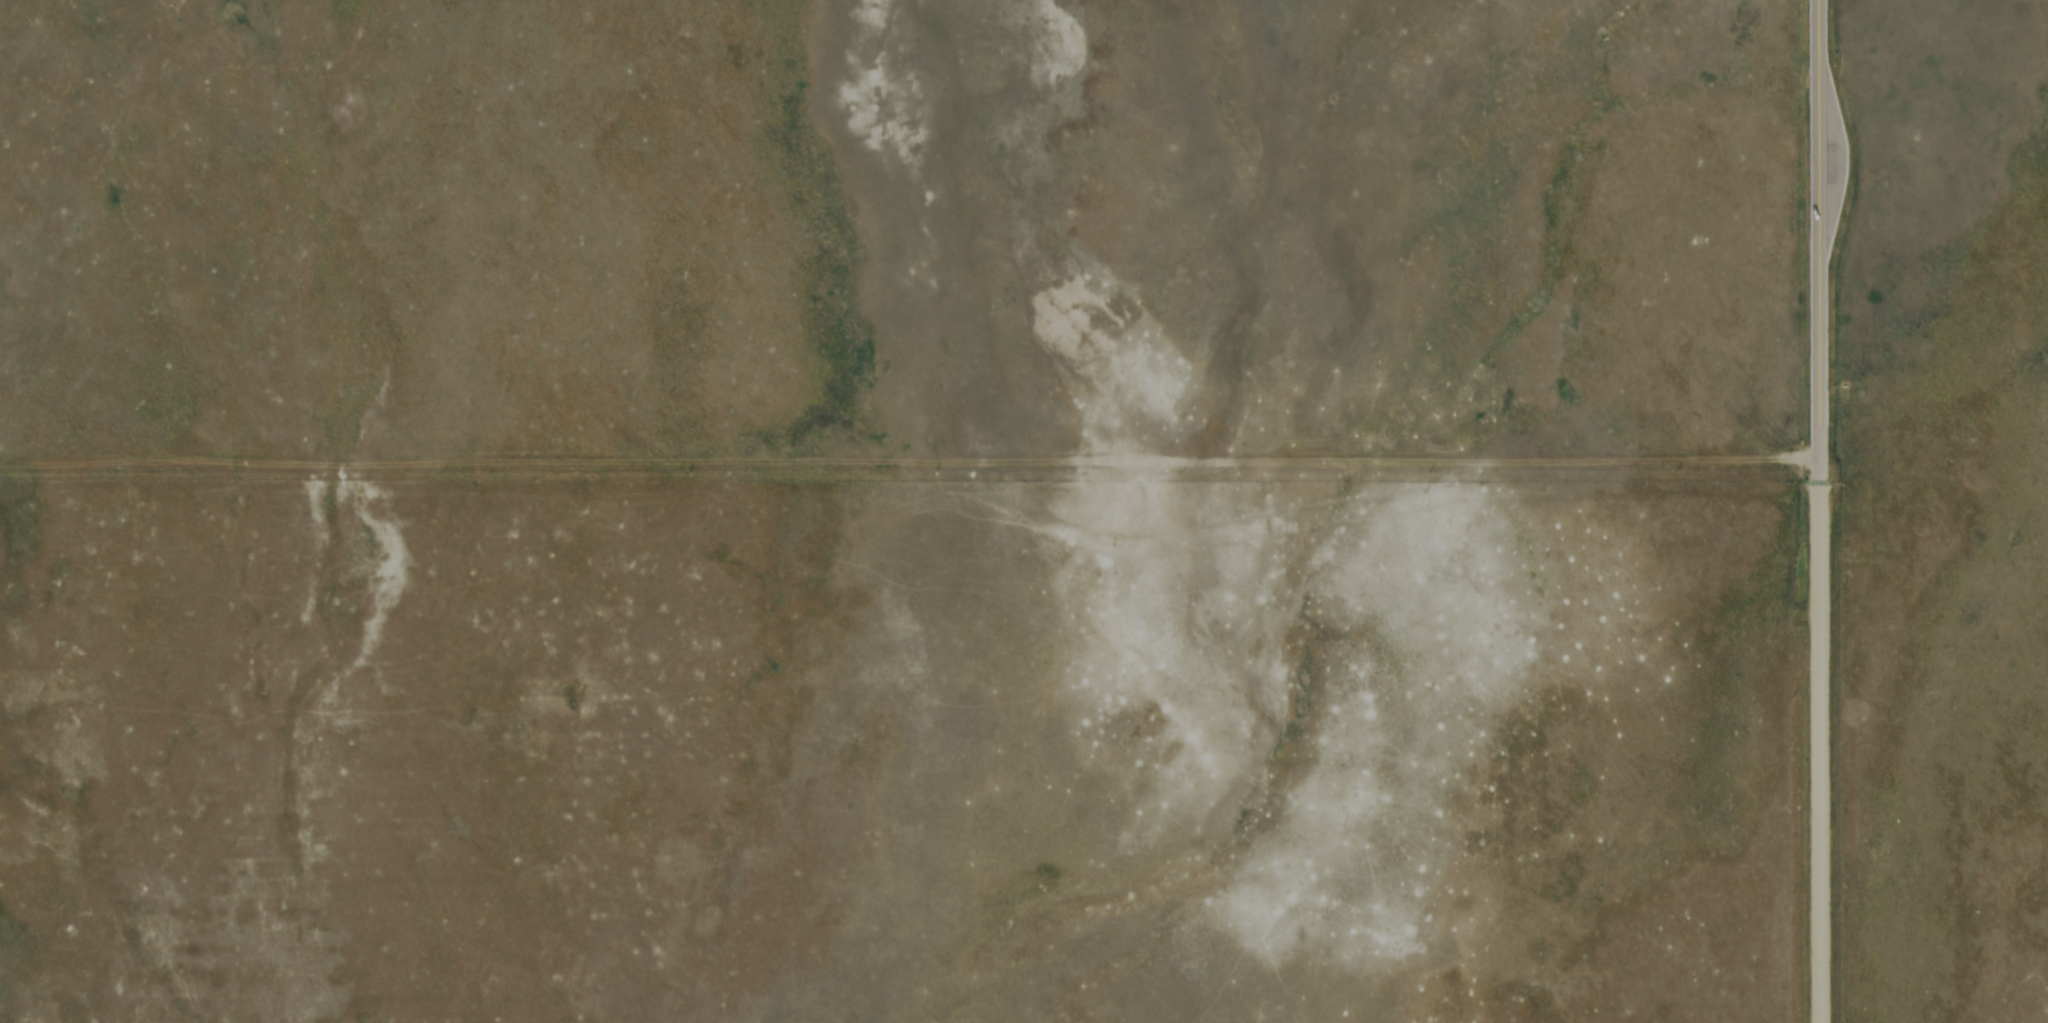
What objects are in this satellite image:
road: (1815, 242)
road: (1817, 754)

